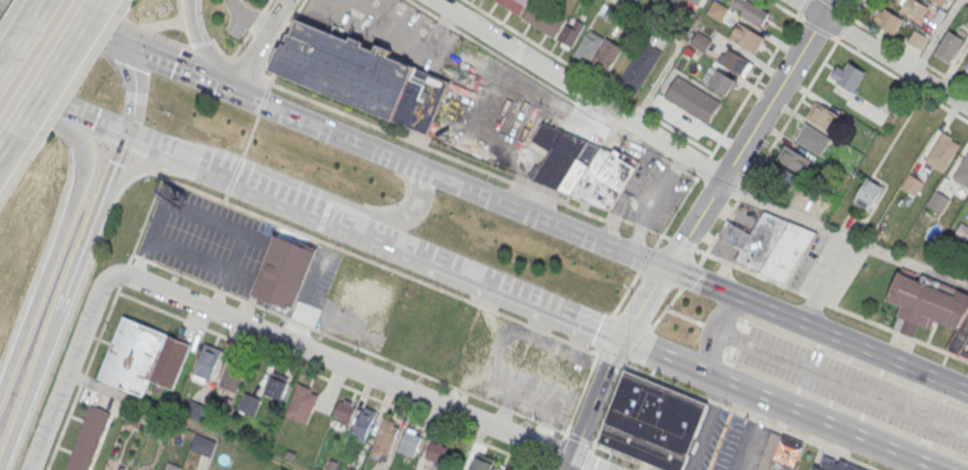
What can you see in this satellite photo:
road: (21, 1)
building: (696, 1)
building: (935, 2)
building: (513, 5)
road: (101, 8)
building: (717, 11)
building: (751, 11)
building: (914, 11)
building: (542, 19)
road: (65, 21)
building: (887, 21)
building: (966, 21)
building: (967, 24)
road: (153, 29)
road: (20, 31)
building: (570, 33)
road: (936, 35)
building: (747, 37)
building: (916, 37)
road: (198, 39)
road: (199, 40)
building: (700, 42)
traffic signals: (117, 44)
road: (257, 44)
building: (949, 46)
road: (677, 48)
road: (220, 49)
building: (597, 51)
road: (881, 51)
road: (909, 52)
building: (734, 61)
road: (248, 65)
road: (59, 67)
building: (639, 67)
building: (966, 67)
building: (847, 74)
building: (360, 75)
road: (902, 79)
building: (722, 83)
road: (555, 87)
road: (135, 88)
road: (581, 88)
road: (28, 100)
building: (821, 115)
road: (90, 125)
building: (812, 137)
traffic signals: (124, 138)
road: (248, 139)
road: (9, 148)
building: (942, 152)
road: (391, 155)
road: (185, 160)
road: (114, 163)
building: (582, 167)
road: (137, 168)
building: (786, 171)
building: (962, 172)
road: (745, 183)
building: (911, 183)
building: (868, 194)
road: (278, 197)
building: (937, 199)
road: (574, 204)
road: (673, 212)
road: (338, 222)
road: (399, 222)
road: (689, 230)
road: (844, 232)
building: (962, 232)
parking lot: (205, 234)
building: (769, 240)
road: (82, 246)
road: (400, 247)
road: (54, 250)
traffic signals: (665, 270)
building: (284, 272)
road: (827, 278)
parking lot: (316, 284)
road: (707, 286)
building: (367, 298)
road: (527, 301)
building: (925, 301)
road: (684, 313)
road: (104, 321)
road: (524, 322)
road: (710, 323)
road: (715, 331)
building: (480, 335)
building: (960, 339)
road: (350, 340)
traffic signals: (618, 340)
building: (422, 344)
road: (312, 346)
road: (859, 346)
building: (445, 355)
building: (141, 357)
building: (206, 363)
building: (546, 364)
building: (232, 377)
road: (335, 378)
road: (842, 378)
road: (30, 385)
building: (276, 385)
parking lot: (852, 386)
building: (301, 403)
road: (607, 403)
building: (249, 404)
road: (776, 404)
building: (343, 411)
building: (653, 419)
road: (183, 421)
road: (47, 423)
building: (363, 423)
road: (704, 426)
road: (580, 435)
building: (385, 436)
building: (87, 439)
building: (408, 443)
building: (203, 445)
road: (558, 447)
building: (436, 451)
building: (786, 453)
building: (771, 454)
road: (626, 455)
road: (586, 458)
building: (481, 464)
road: (551, 464)
building: (835, 465)
building: (171, 466)
building: (499, 468)
road: (557, 469)

